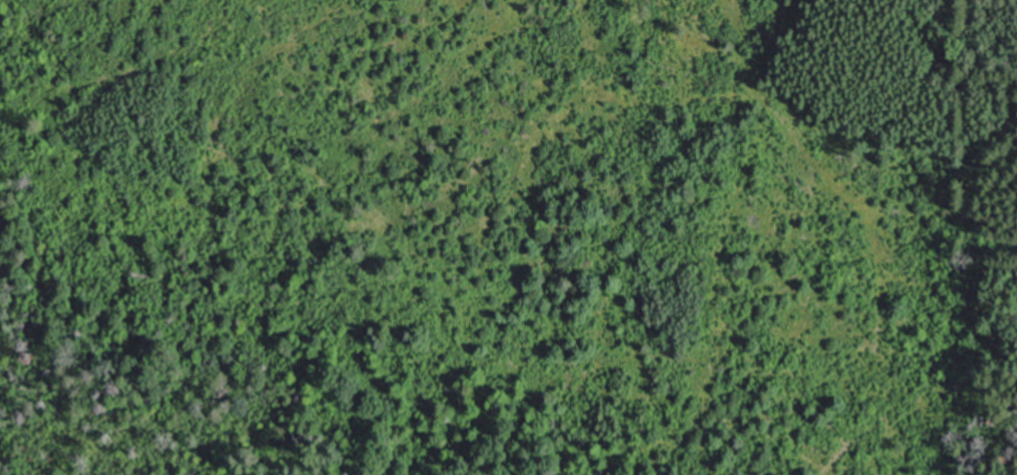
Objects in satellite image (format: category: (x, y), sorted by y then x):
road: (727, 3)

